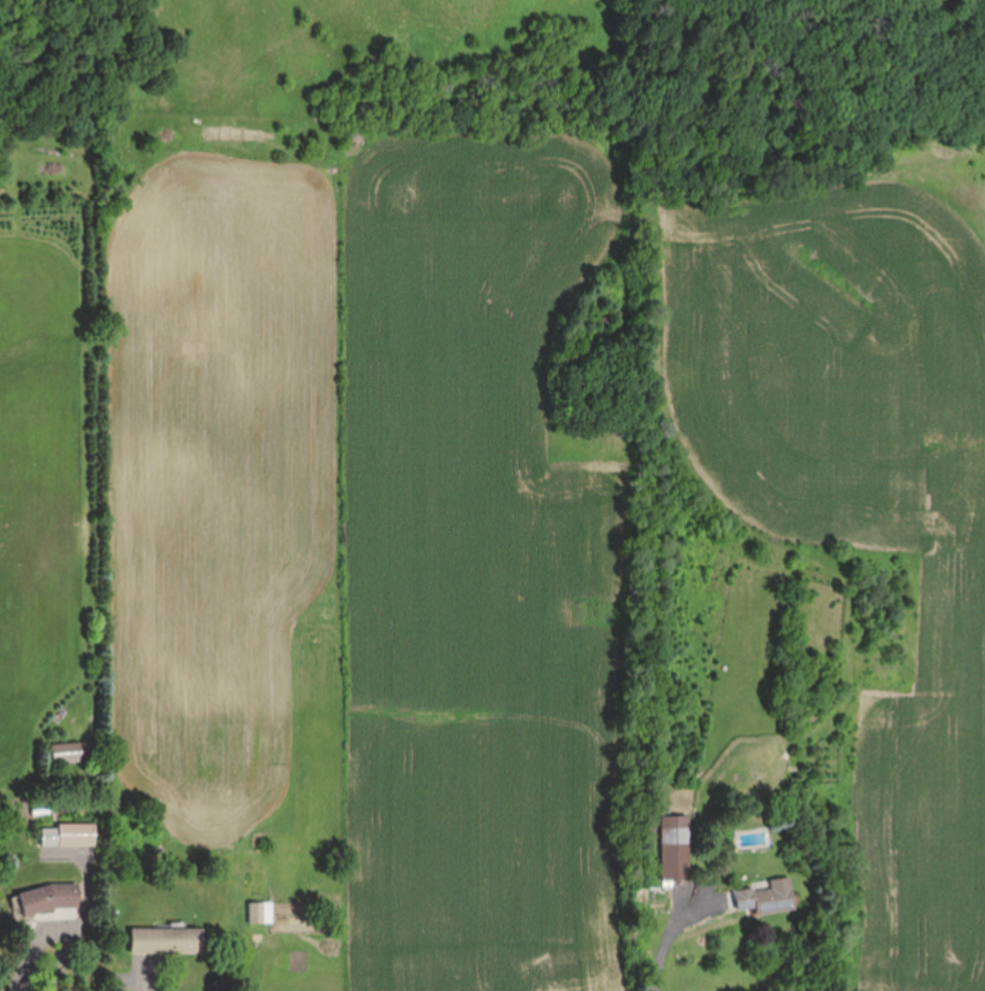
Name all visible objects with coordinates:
building: (66, 752)
building: (67, 835)
building: (674, 848)
building: (50, 898)
building: (767, 898)
building: (253, 913)
building: (167, 941)
road: (664, 942)
road: (31, 959)

